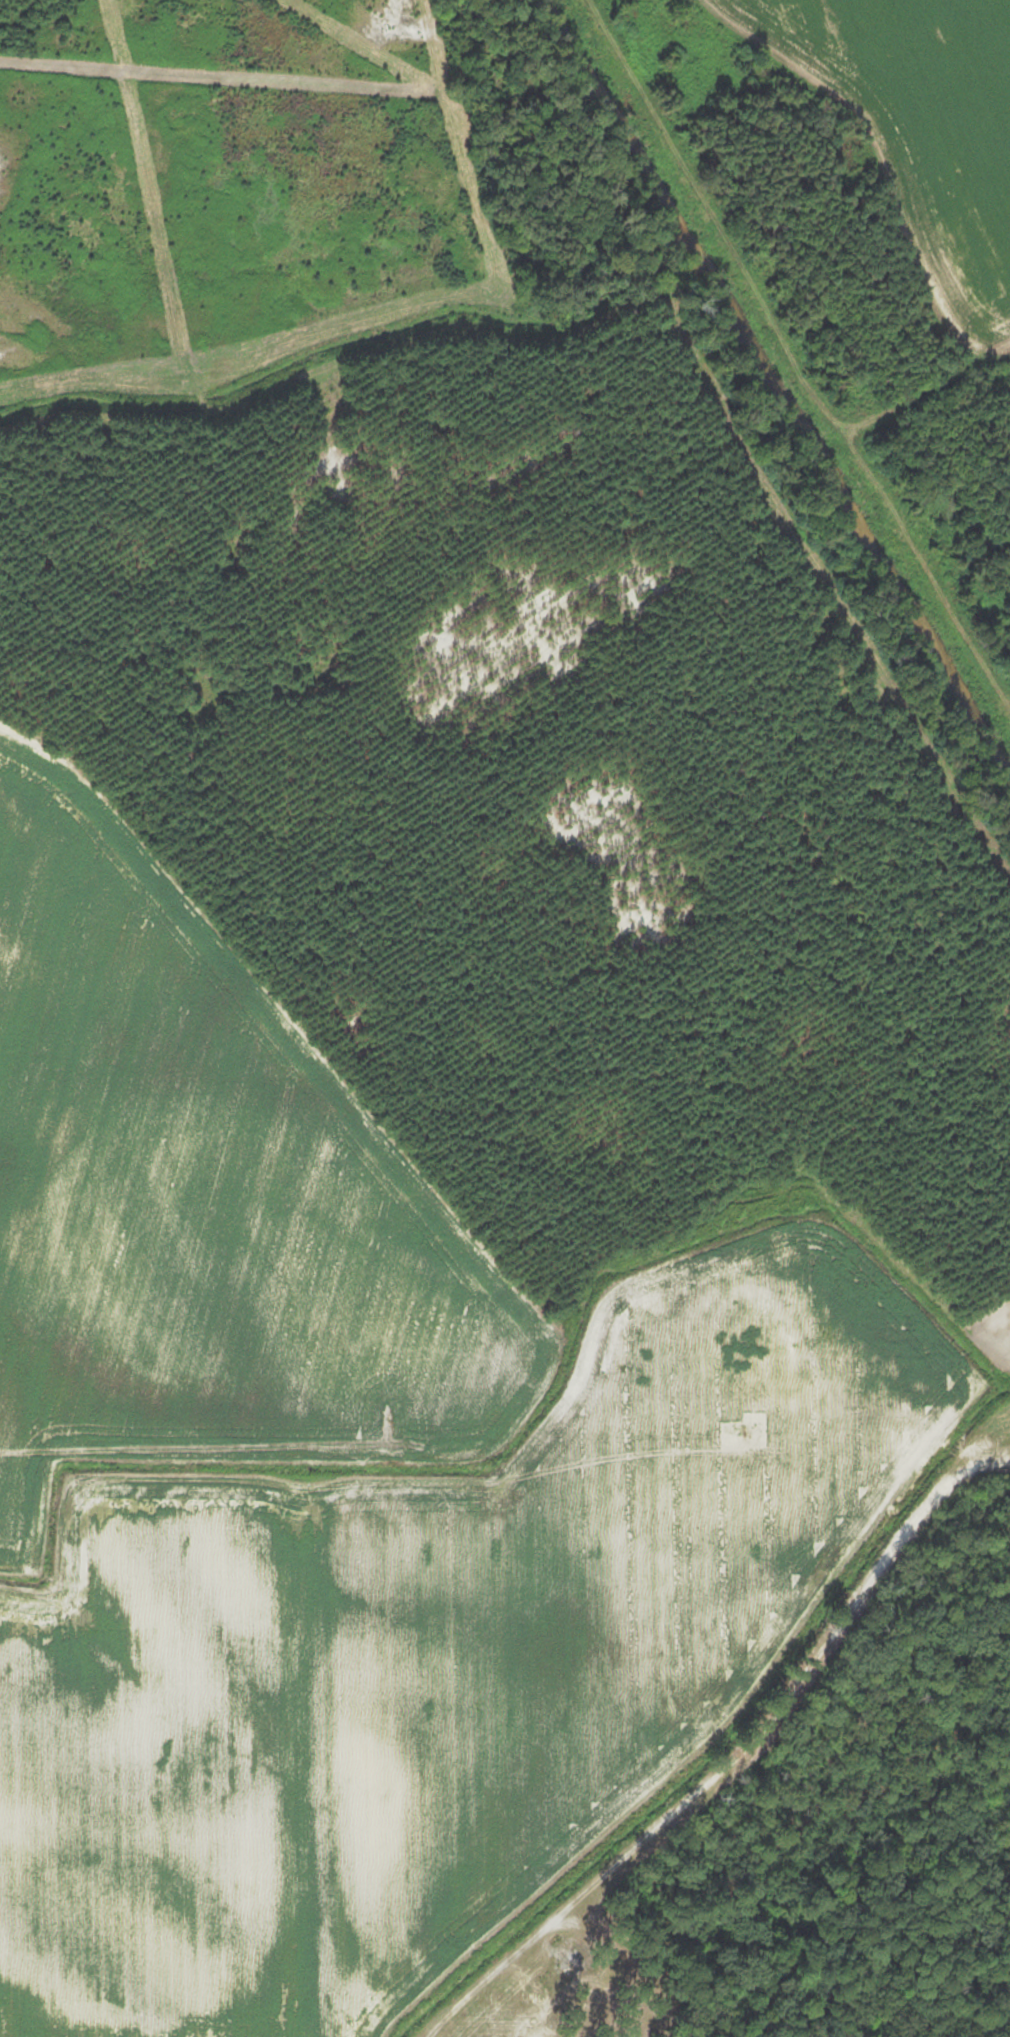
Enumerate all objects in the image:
power tower: (387, 1429)
power tower: (745, 1434)

